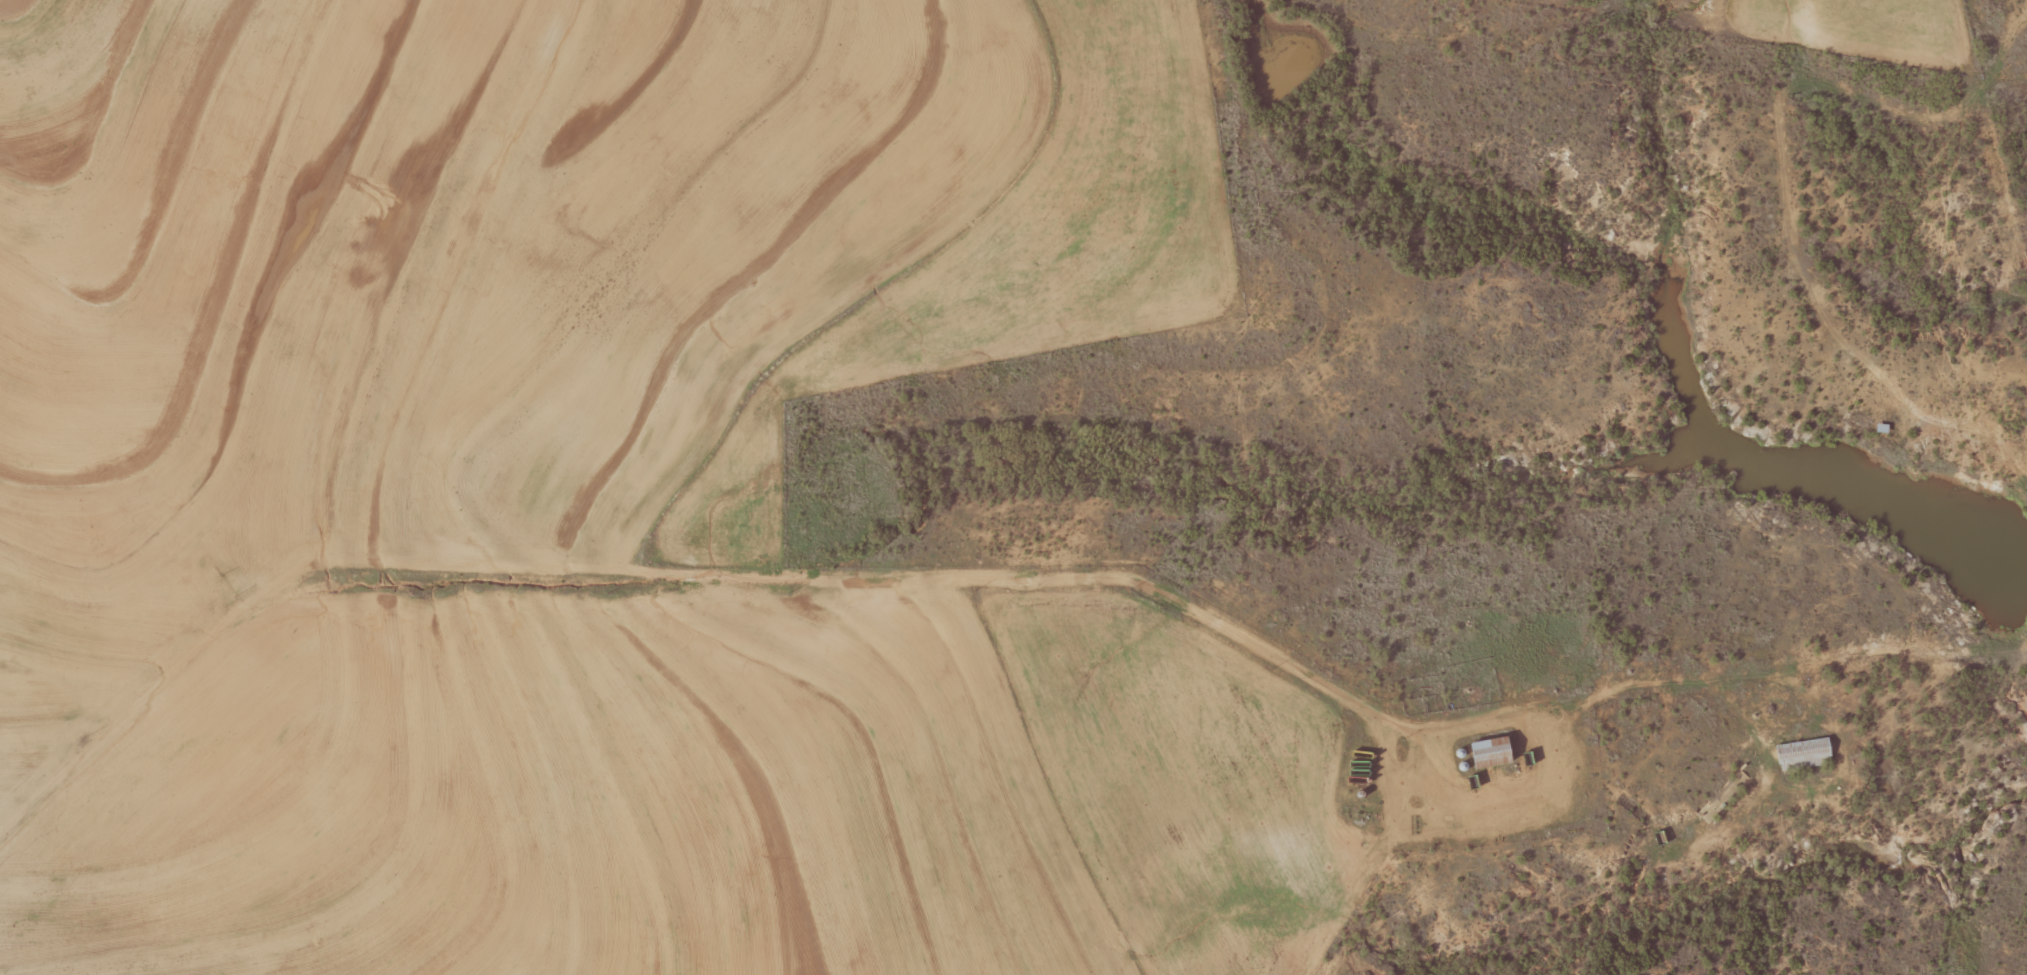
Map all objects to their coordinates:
road: (1805, 277)
road: (988, 596)
building: (1804, 754)

